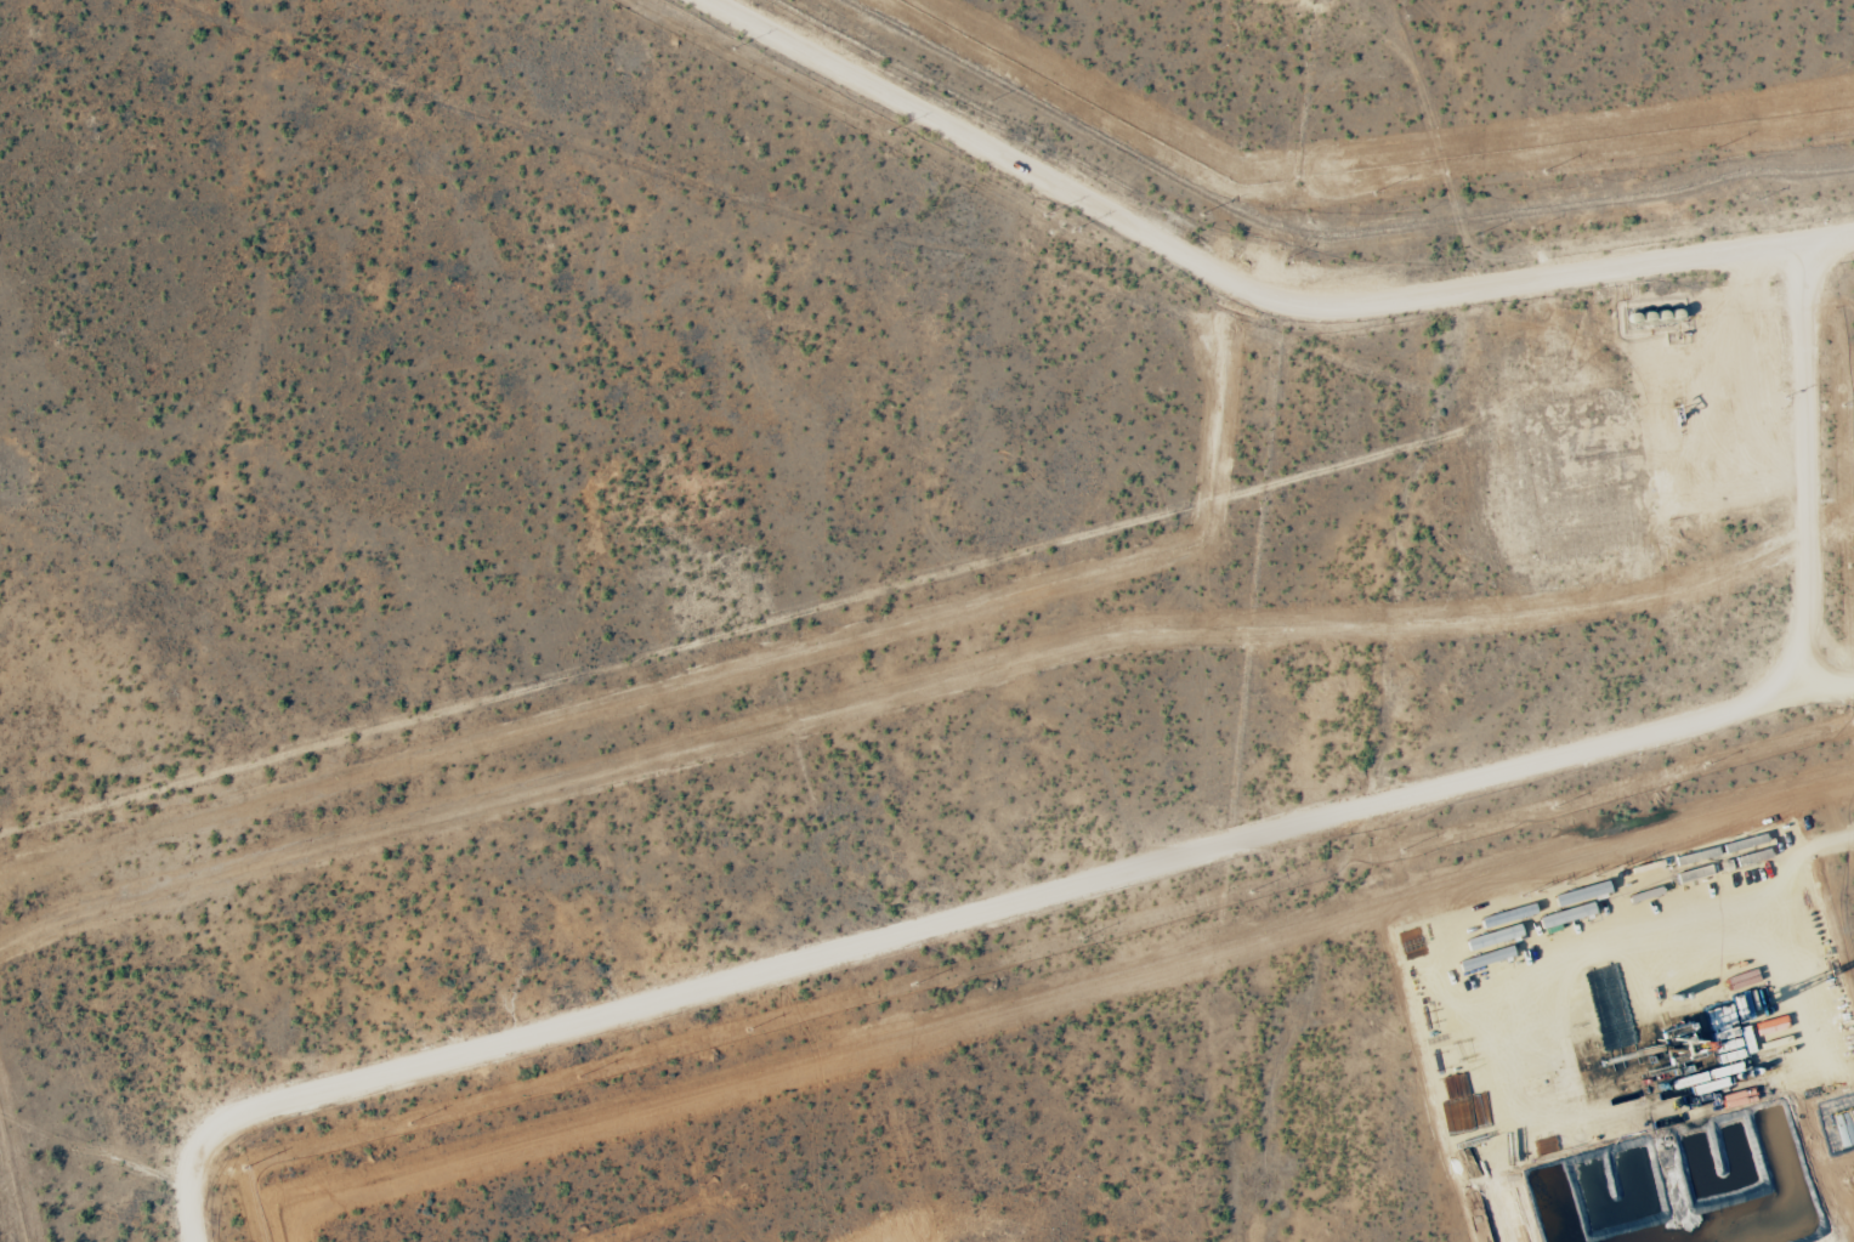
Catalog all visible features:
road: (738, 199)
road: (646, 674)

